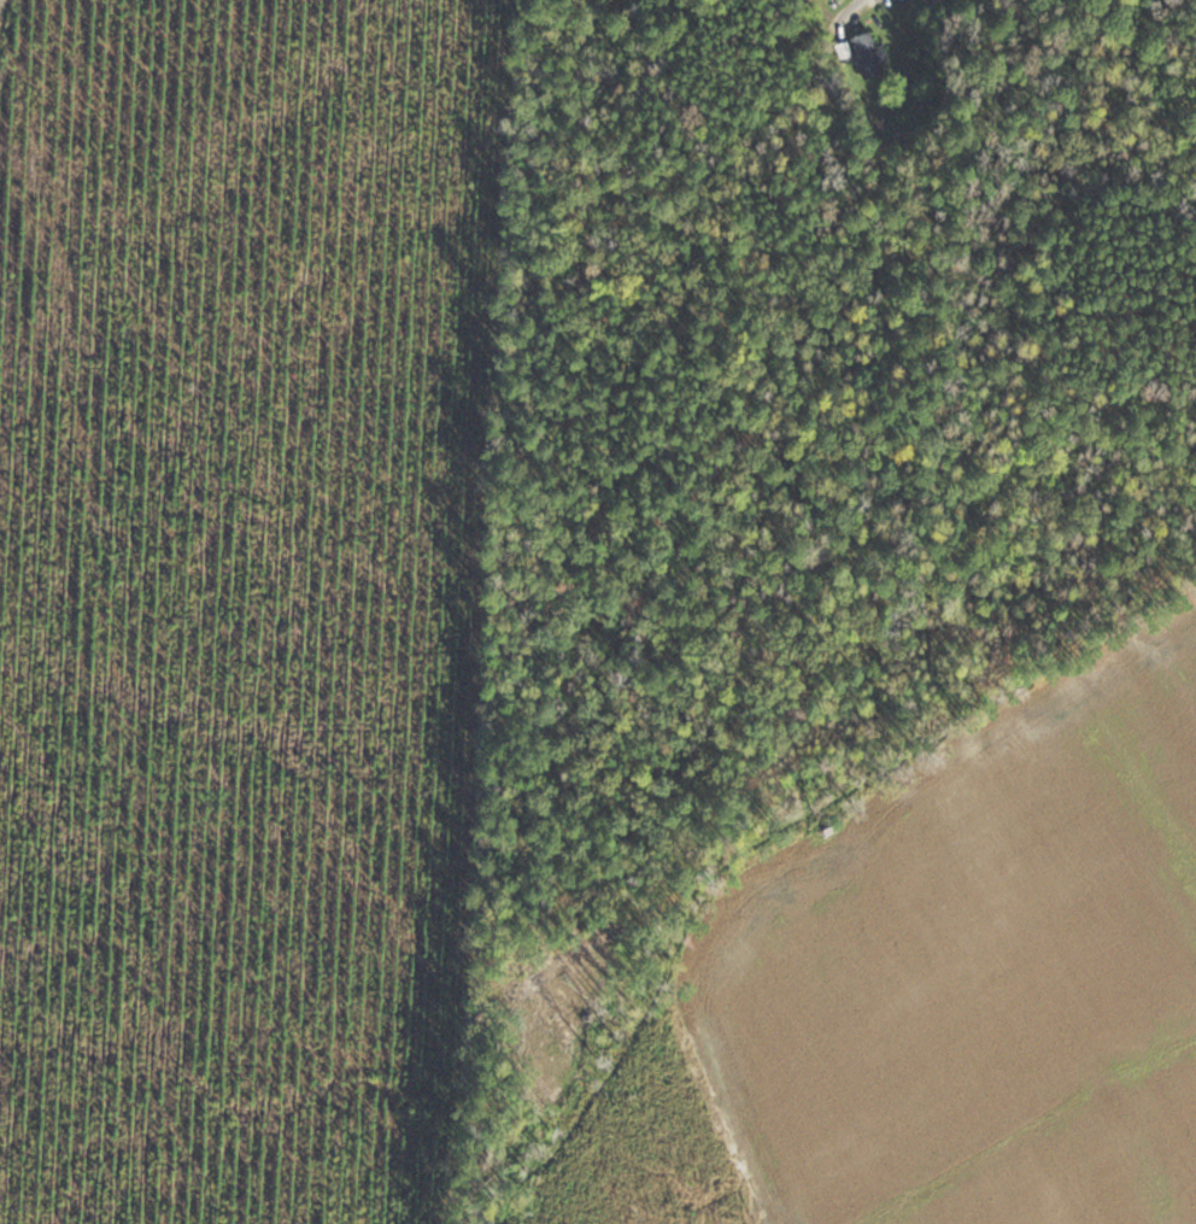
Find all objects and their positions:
road: (5, 21)
building: (867, 55)

